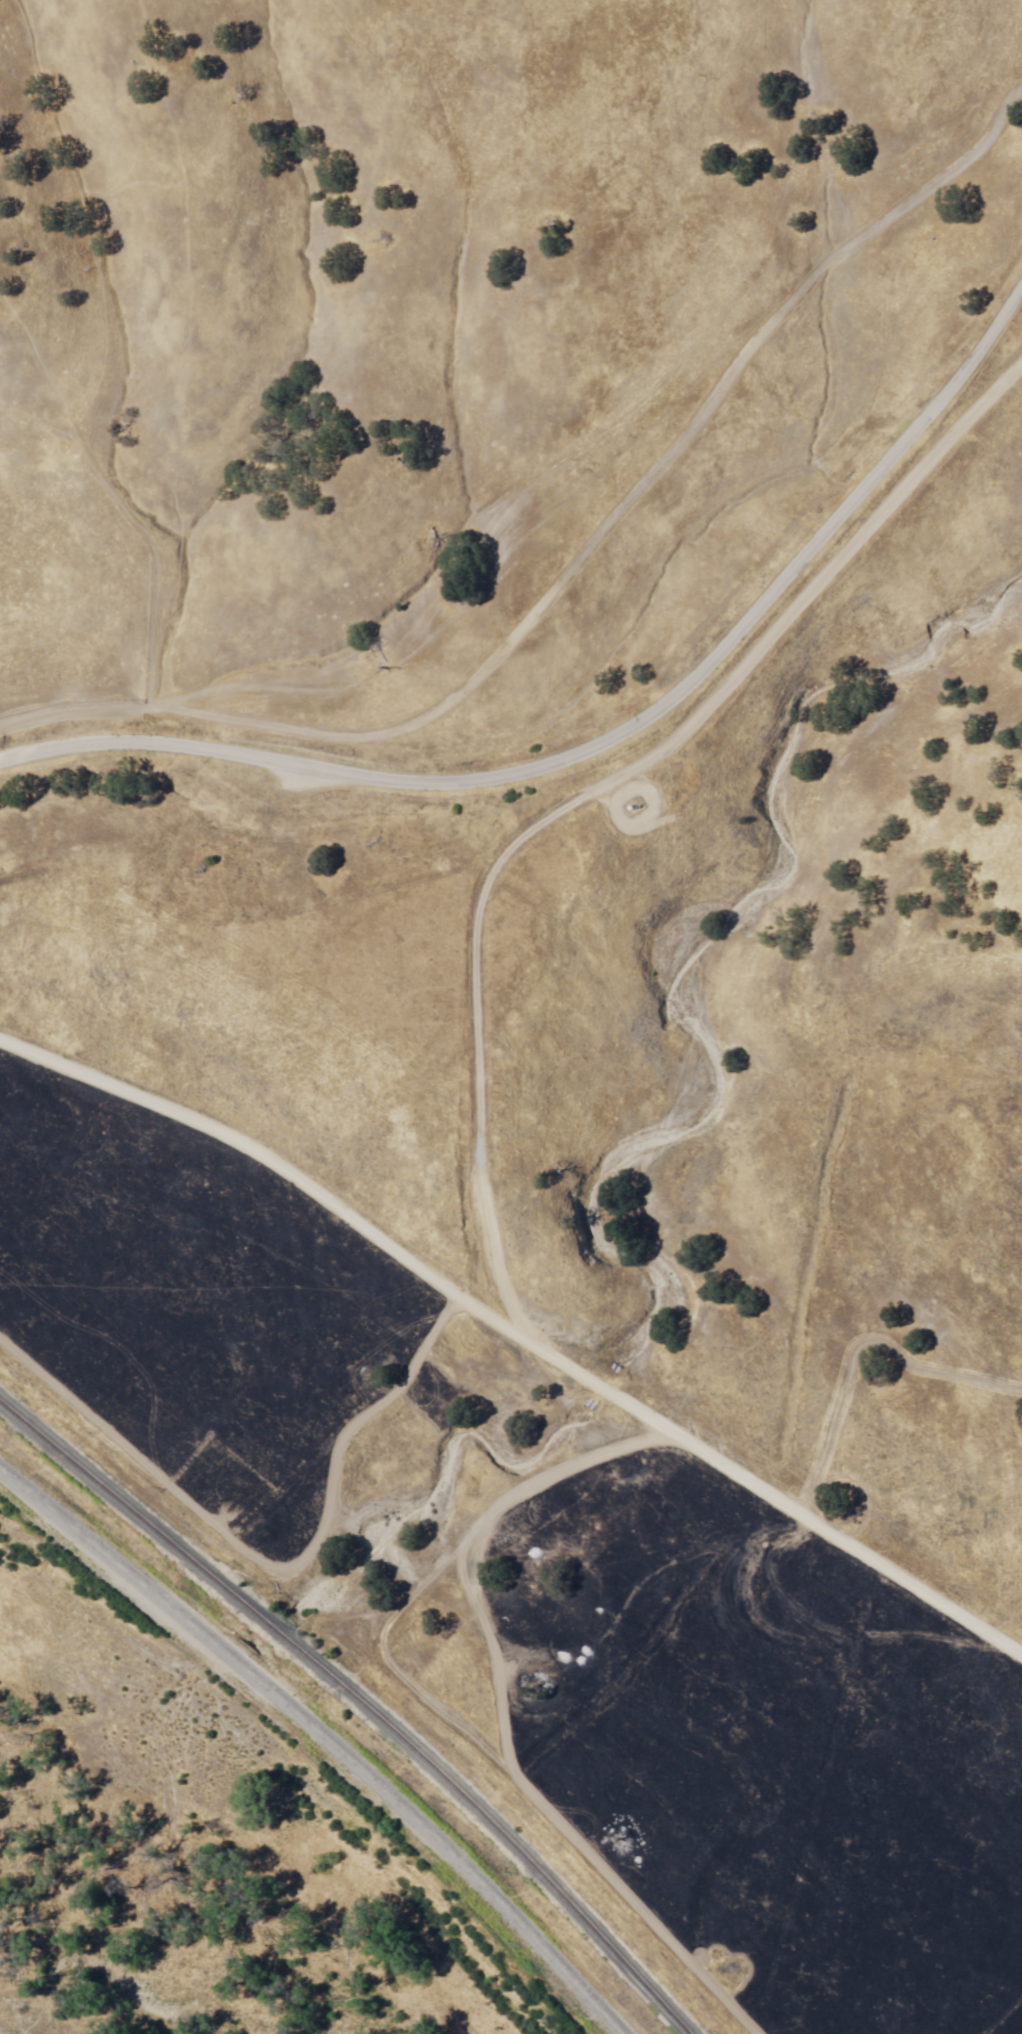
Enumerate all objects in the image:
road: (157, 515)
road: (605, 745)
road: (518, 1335)
railway: (357, 1703)
road: (328, 1737)
park: (216, 1842)

